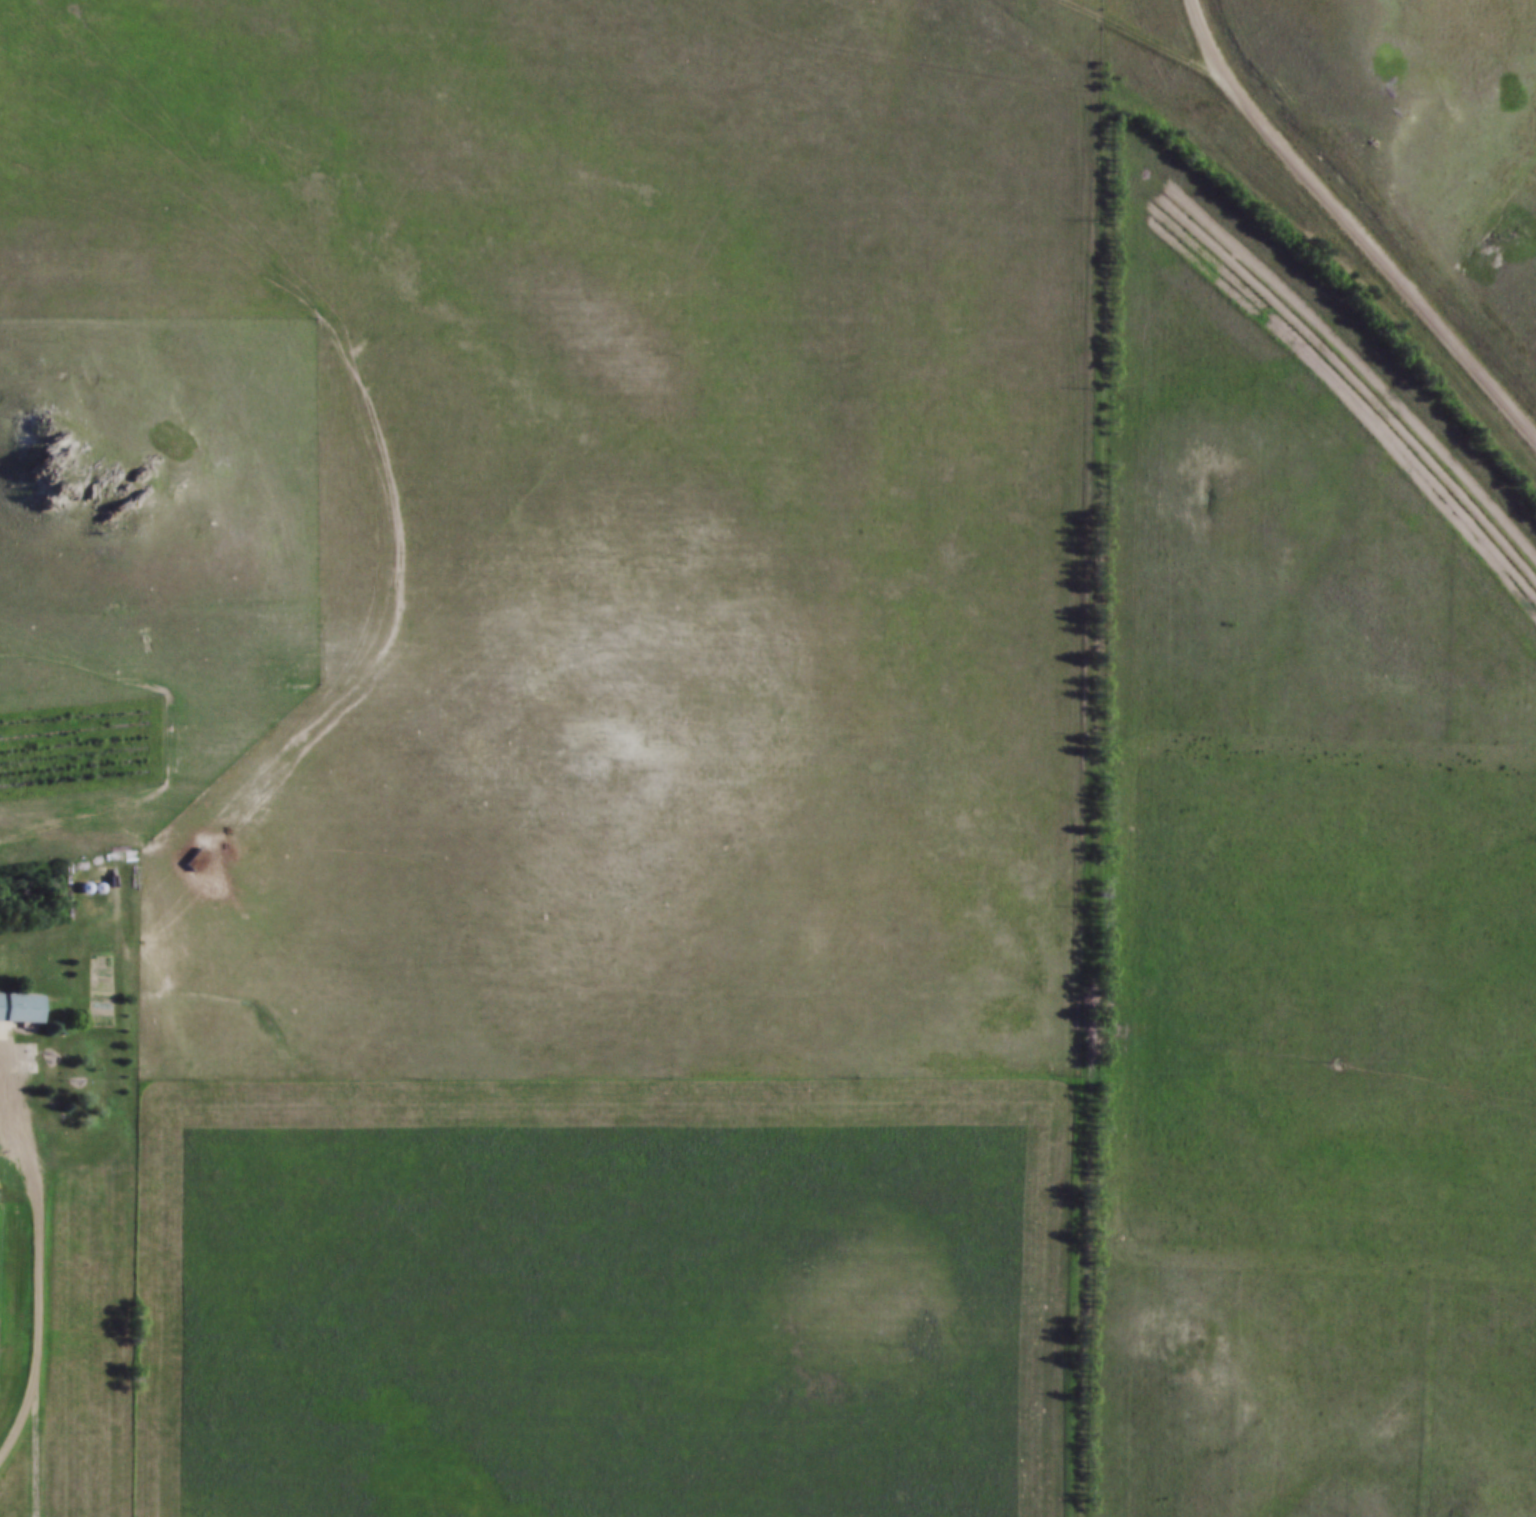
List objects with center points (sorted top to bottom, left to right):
road: (1150, 39)
road: (1354, 226)
building: (19, 1006)
road: (40, 1249)

